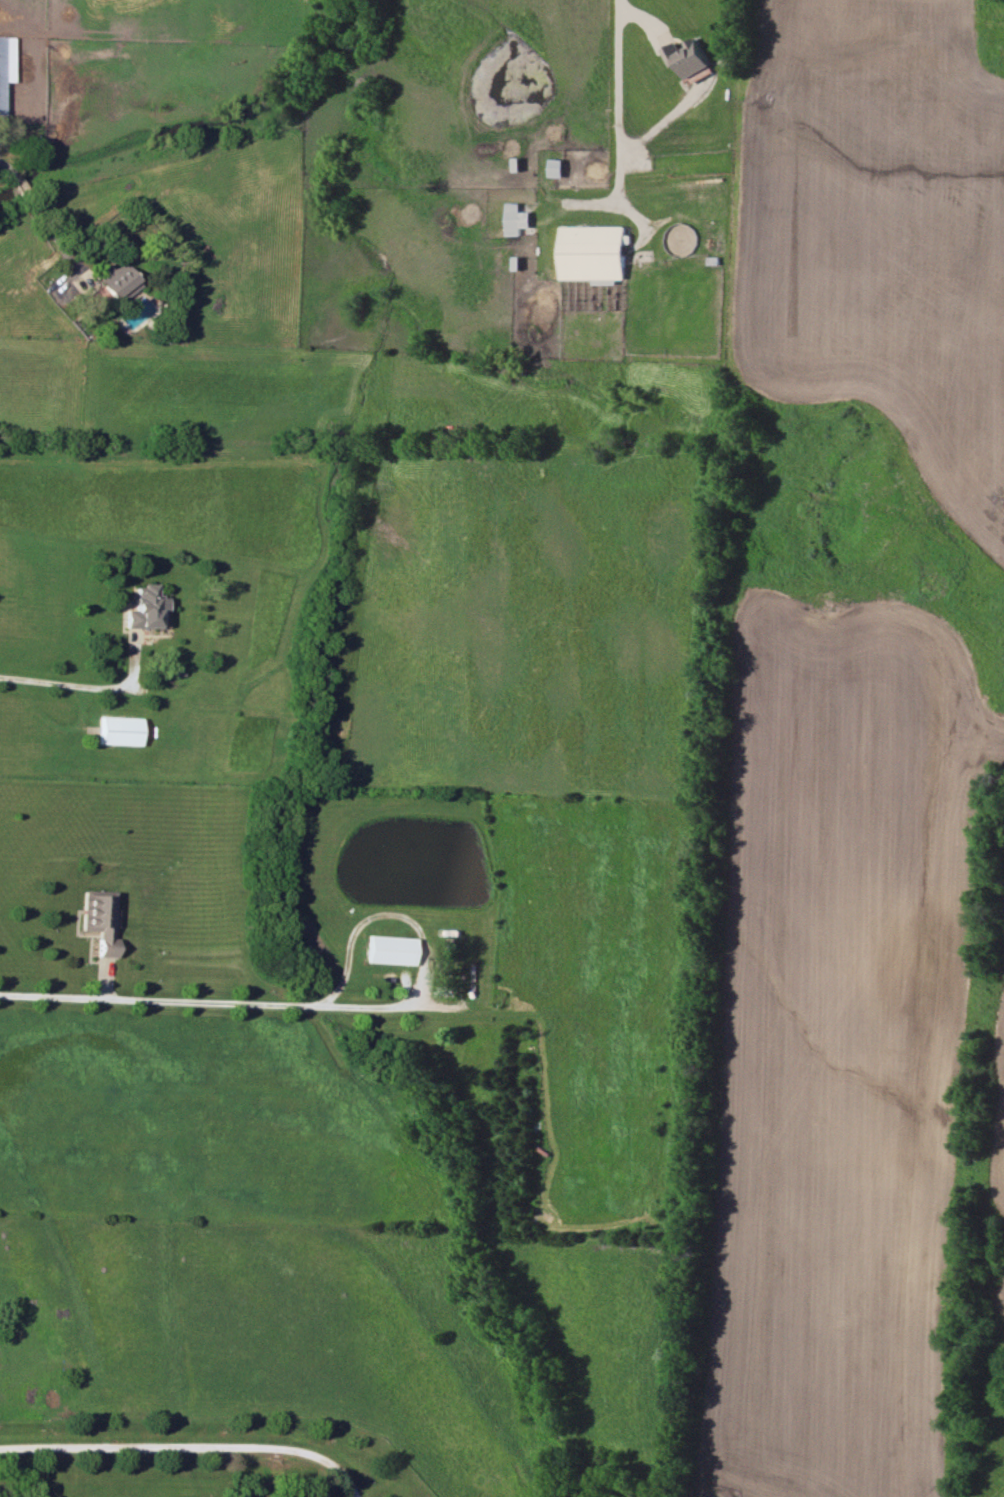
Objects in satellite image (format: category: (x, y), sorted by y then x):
building: (687, 57)
building: (5, 62)
road: (618, 94)
building: (554, 168)
road: (7, 171)
road: (19, 184)
building: (515, 219)
road: (49, 228)
building: (593, 253)
building: (115, 283)
building: (145, 608)
road: (81, 678)
building: (118, 730)
building: (98, 919)
building: (389, 949)
road: (194, 996)
road: (187, 1447)

